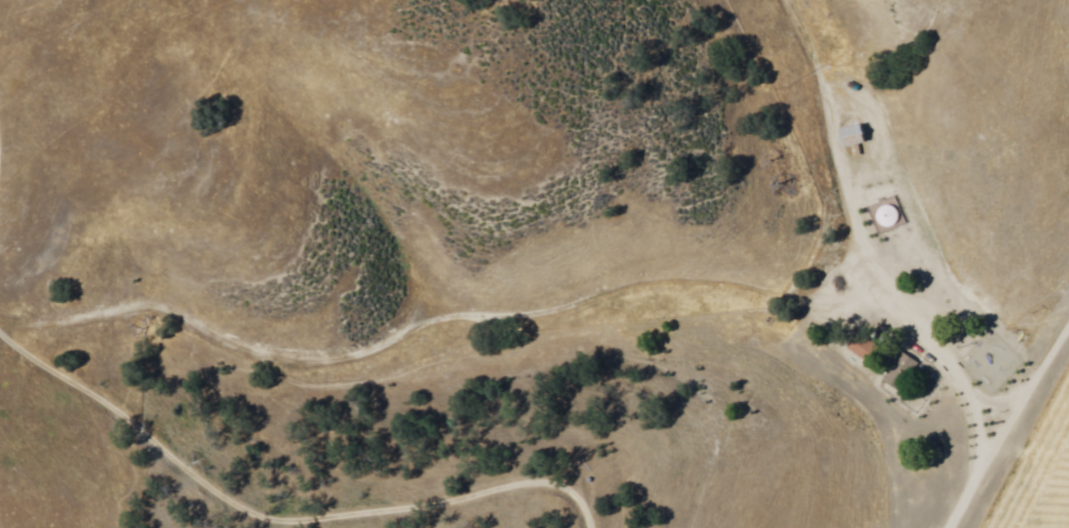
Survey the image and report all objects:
building: (852, 136)
road: (791, 142)
road: (521, 319)
building: (900, 372)
road: (1005, 412)

